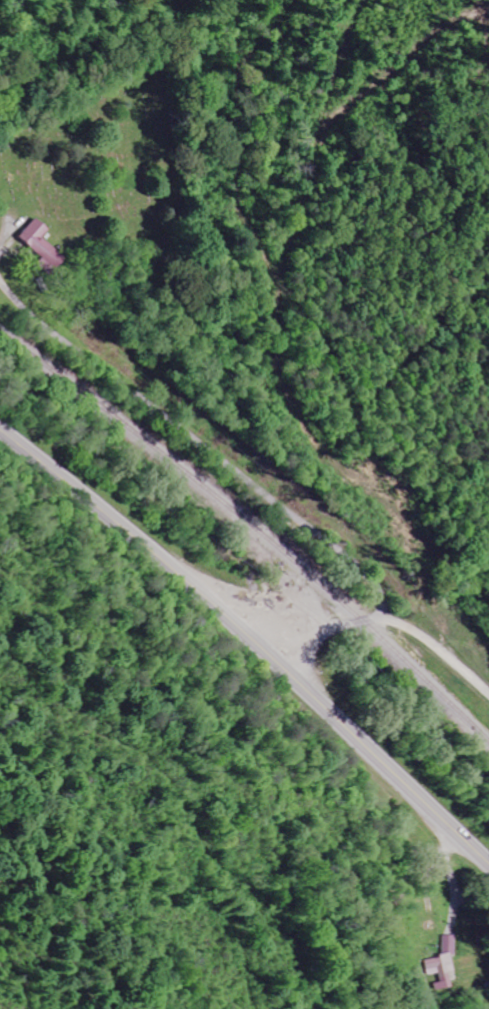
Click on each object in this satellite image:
building: (40, 244)
road: (199, 444)
railway: (254, 527)
road: (390, 619)
road: (252, 637)
building: (448, 964)

